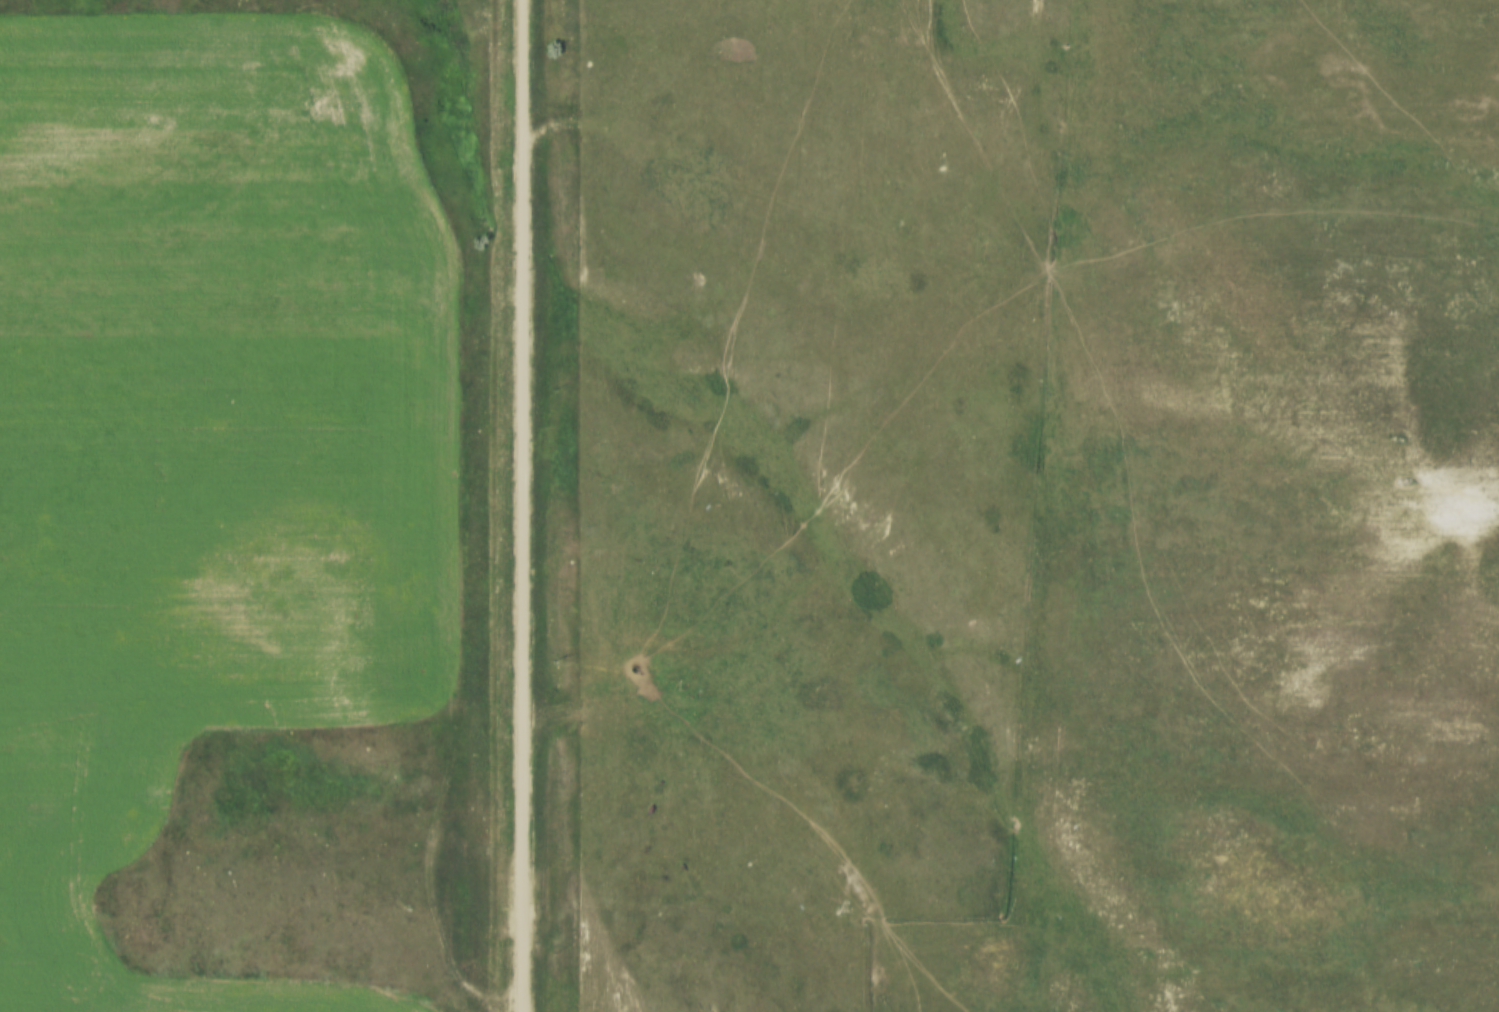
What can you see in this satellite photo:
road: (519, 505)

